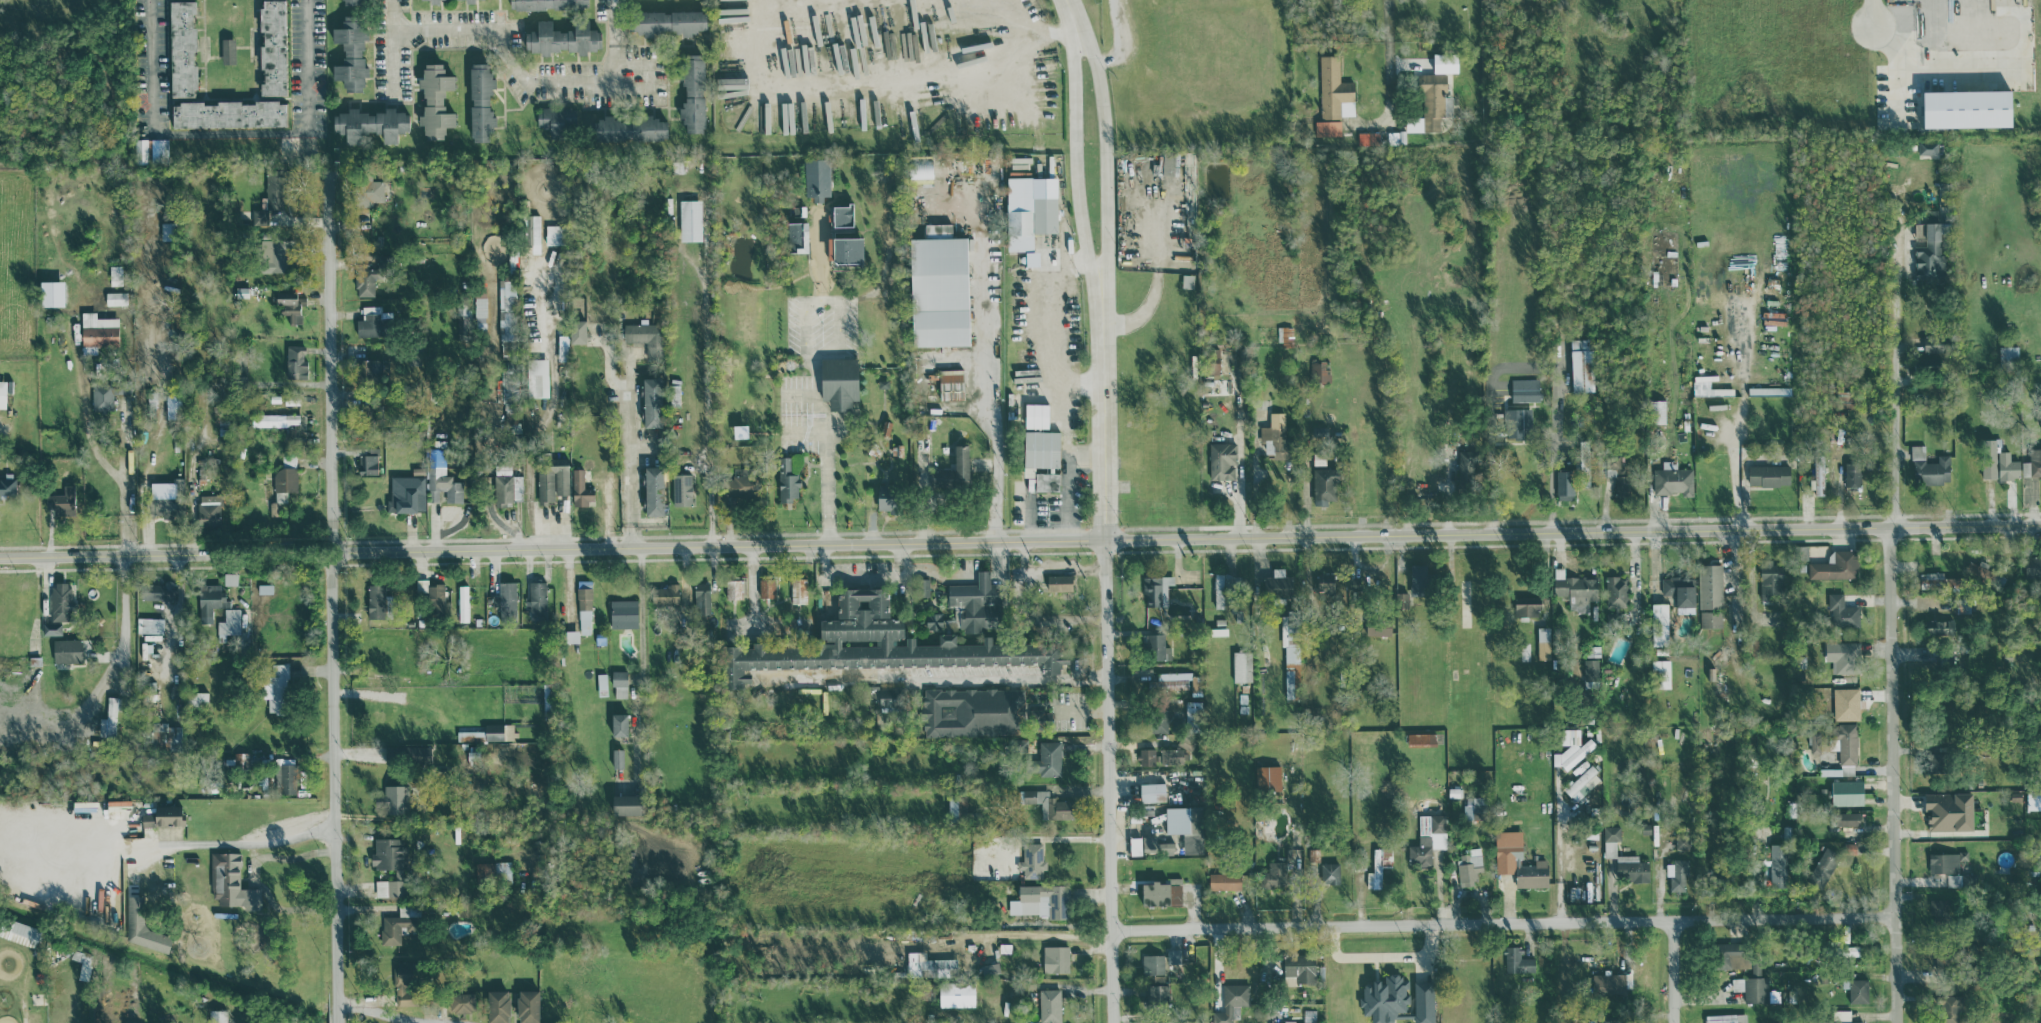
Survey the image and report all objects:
building: (445, 0)
building: (351, 2)
road: (1071, 11)
road: (1871, 13)
road: (400, 16)
building: (669, 22)
road: (1031, 32)
building: (561, 38)
road: (617, 44)
building: (272, 47)
building: (182, 49)
building: (228, 51)
road: (515, 53)
building: (350, 54)
road: (1390, 57)
road: (317, 64)
building: (1335, 90)
building: (692, 93)
building: (435, 101)
building: (480, 102)
building: (1967, 109)
building: (229, 114)
building: (558, 119)
building: (370, 124)
building: (1327, 128)
building: (628, 129)
road: (171, 134)
building: (1396, 137)
building: (1367, 139)
building: (1928, 147)
building: (149, 149)
road: (1103, 167)
road: (1072, 171)
building: (816, 177)
building: (369, 189)
building: (272, 193)
building: (1028, 213)
building: (842, 214)
building: (690, 219)
building: (168, 230)
building: (532, 231)
building: (553, 233)
building: (1929, 244)
building: (847, 248)
building: (276, 255)
building: (1032, 257)
building: (115, 274)
road: (1157, 274)
building: (1188, 280)
building: (364, 282)
building: (939, 287)
building: (51, 292)
building: (115, 297)
road: (831, 300)
building: (290, 304)
building: (506, 309)
building: (373, 321)
building: (98, 328)
building: (577, 330)
building: (1285, 335)
building: (646, 337)
building: (1932, 343)
building: (2009, 352)
road: (963, 355)
building: (1929, 358)
building: (940, 360)
building: (1213, 360)
building: (295, 361)
road: (1044, 364)
building: (1582, 364)
building: (371, 367)
building: (1318, 369)
road: (108, 376)
building: (537, 377)
building: (839, 381)
building: (951, 386)
building: (1770, 390)
building: (2, 393)
building: (1524, 393)
building: (105, 394)
road: (974, 397)
building: (652, 400)
road: (998, 408)
road: (91, 409)
building: (1657, 410)
building: (1036, 414)
building: (275, 419)
building: (1515, 423)
building: (1276, 435)
road: (1492, 435)
road: (827, 445)
building: (1040, 450)
road: (637, 453)
road: (1552, 453)
building: (1990, 457)
building: (367, 459)
building: (1222, 460)
building: (961, 461)
building: (2032, 463)
building: (2008, 466)
building: (1929, 467)
building: (1465, 468)
building: (1620, 472)
road: (1258, 473)
building: (1852, 473)
building: (1769, 475)
building: (1819, 475)
road: (127, 476)
building: (441, 478)
building: (945, 478)
building: (1673, 479)
road: (1739, 479)
building: (551, 480)
building: (788, 480)
building: (1047, 481)
building: (7, 483)
building: (503, 484)
building: (739, 484)
building: (1565, 484)
building: (1324, 485)
building: (175, 486)
building: (282, 486)
building: (580, 488)
building: (681, 488)
building: (653, 489)
building: (404, 492)
building: (886, 496)
building: (62, 500)
building: (163, 504)
building: (208, 509)
road: (1020, 539)
building: (1836, 565)
building: (2033, 566)
building: (1979, 572)
road: (862, 573)
road: (966, 576)
building: (1419, 579)
building: (1931, 579)
building: (1326, 580)
building: (1771, 581)
building: (1059, 582)
building: (1710, 585)
building: (925, 586)
building: (766, 587)
building: (735, 588)
building: (1220, 588)
building: (798, 589)
building: (1576, 589)
building: (1680, 589)
building: (157, 590)
building: (1616, 590)
road: (1893, 590)
road: (331, 592)
road: (750, 593)
building: (1156, 593)
building: (664, 594)
building: (505, 596)
building: (435, 597)
building: (537, 597)
building: (701, 597)
building: (1401, 599)
building: (61, 600)
building: (209, 600)
building: (375, 600)
building: (976, 601)
building: (463, 602)
building: (1527, 605)
building: (584, 606)
building: (1842, 612)
road: (124, 613)
building: (623, 613)
building: (1711, 618)
building: (934, 621)
building: (228, 623)
building: (1660, 623)
building: (149, 624)
building: (1378, 625)
building: (1939, 626)
building: (50, 627)
building: (1543, 642)
building: (879, 644)
building: (1155, 645)
building: (67, 650)
building: (1291, 654)
building: (1842, 656)
road: (641, 660)
building: (1242, 666)
road: (1107, 670)
building: (1590, 672)
building: (1661, 673)
building: (1177, 681)
building: (620, 683)
building: (602, 684)
building: (276, 687)
building: (886, 696)
building: (198, 698)
building: (1846, 703)
building: (972, 711)
building: (109, 718)
building: (1158, 720)
building: (619, 724)
building: (165, 731)
building: (499, 731)
building: (470, 735)
building: (1421, 738)
building: (1572, 747)
building: (1146, 755)
building: (1173, 755)
building: (617, 757)
building: (1049, 758)
building: (1268, 777)
building: (285, 778)
building: (1583, 783)
building: (1152, 791)
building: (1847, 792)
building: (394, 798)
building: (2034, 799)
building: (626, 803)
building: (1050, 804)
building: (953, 806)
building: (1949, 810)
building: (164, 815)
building: (1847, 818)
building: (1185, 826)
building: (1428, 838)
building: (1611, 840)
building: (1682, 841)
building: (1135, 845)
road: (241, 847)
road: (1559, 847)
building: (1850, 847)
building: (386, 853)
building: (1032, 860)
building: (1518, 860)
building: (1946, 861)
building: (1469, 865)
building: (1778, 865)
building: (1823, 867)
building: (1631, 868)
building: (495, 870)
building: (1375, 870)
building: (1330, 872)
building: (1677, 874)
building: (1273, 875)
building: (1225, 881)
building: (231, 882)
building: (389, 887)
building: (1161, 893)
building: (1042, 900)
road: (1505, 920)
building: (399, 923)
building: (141, 925)
building: (1731, 955)
building: (1174, 956)
building: (1056, 958)
building: (1517, 960)
building: (1153, 963)
river: (169, 964)
building: (1299, 968)
road: (1671, 969)
building: (405, 972)
building: (1608, 983)
building: (1753, 984)
building: (1856, 989)
building: (1158, 992)
building: (956, 994)
building: (406, 997)
building: (1384, 998)
building: (1231, 1001)
building: (1424, 1001)
building: (461, 1002)
building: (1050, 1005)
building: (497, 1006)
building: (527, 1006)
building: (217, 1016)
building: (1842, 1016)
road: (339, 1018)
road: (395, 1018)
building: (1726, 1018)
building: (1609, 1021)

